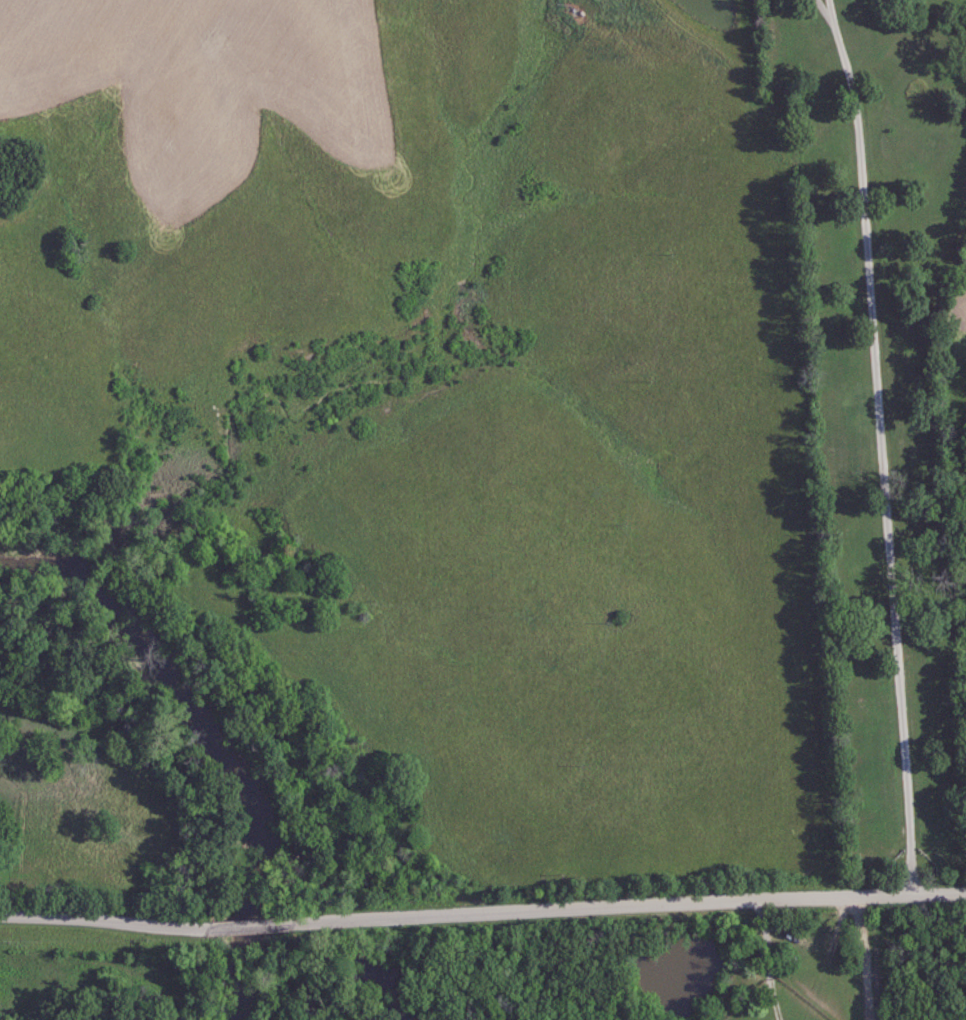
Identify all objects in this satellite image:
road: (823, 7)
road: (830, 7)
road: (881, 452)
road: (482, 912)
road: (864, 957)
road: (768, 959)

